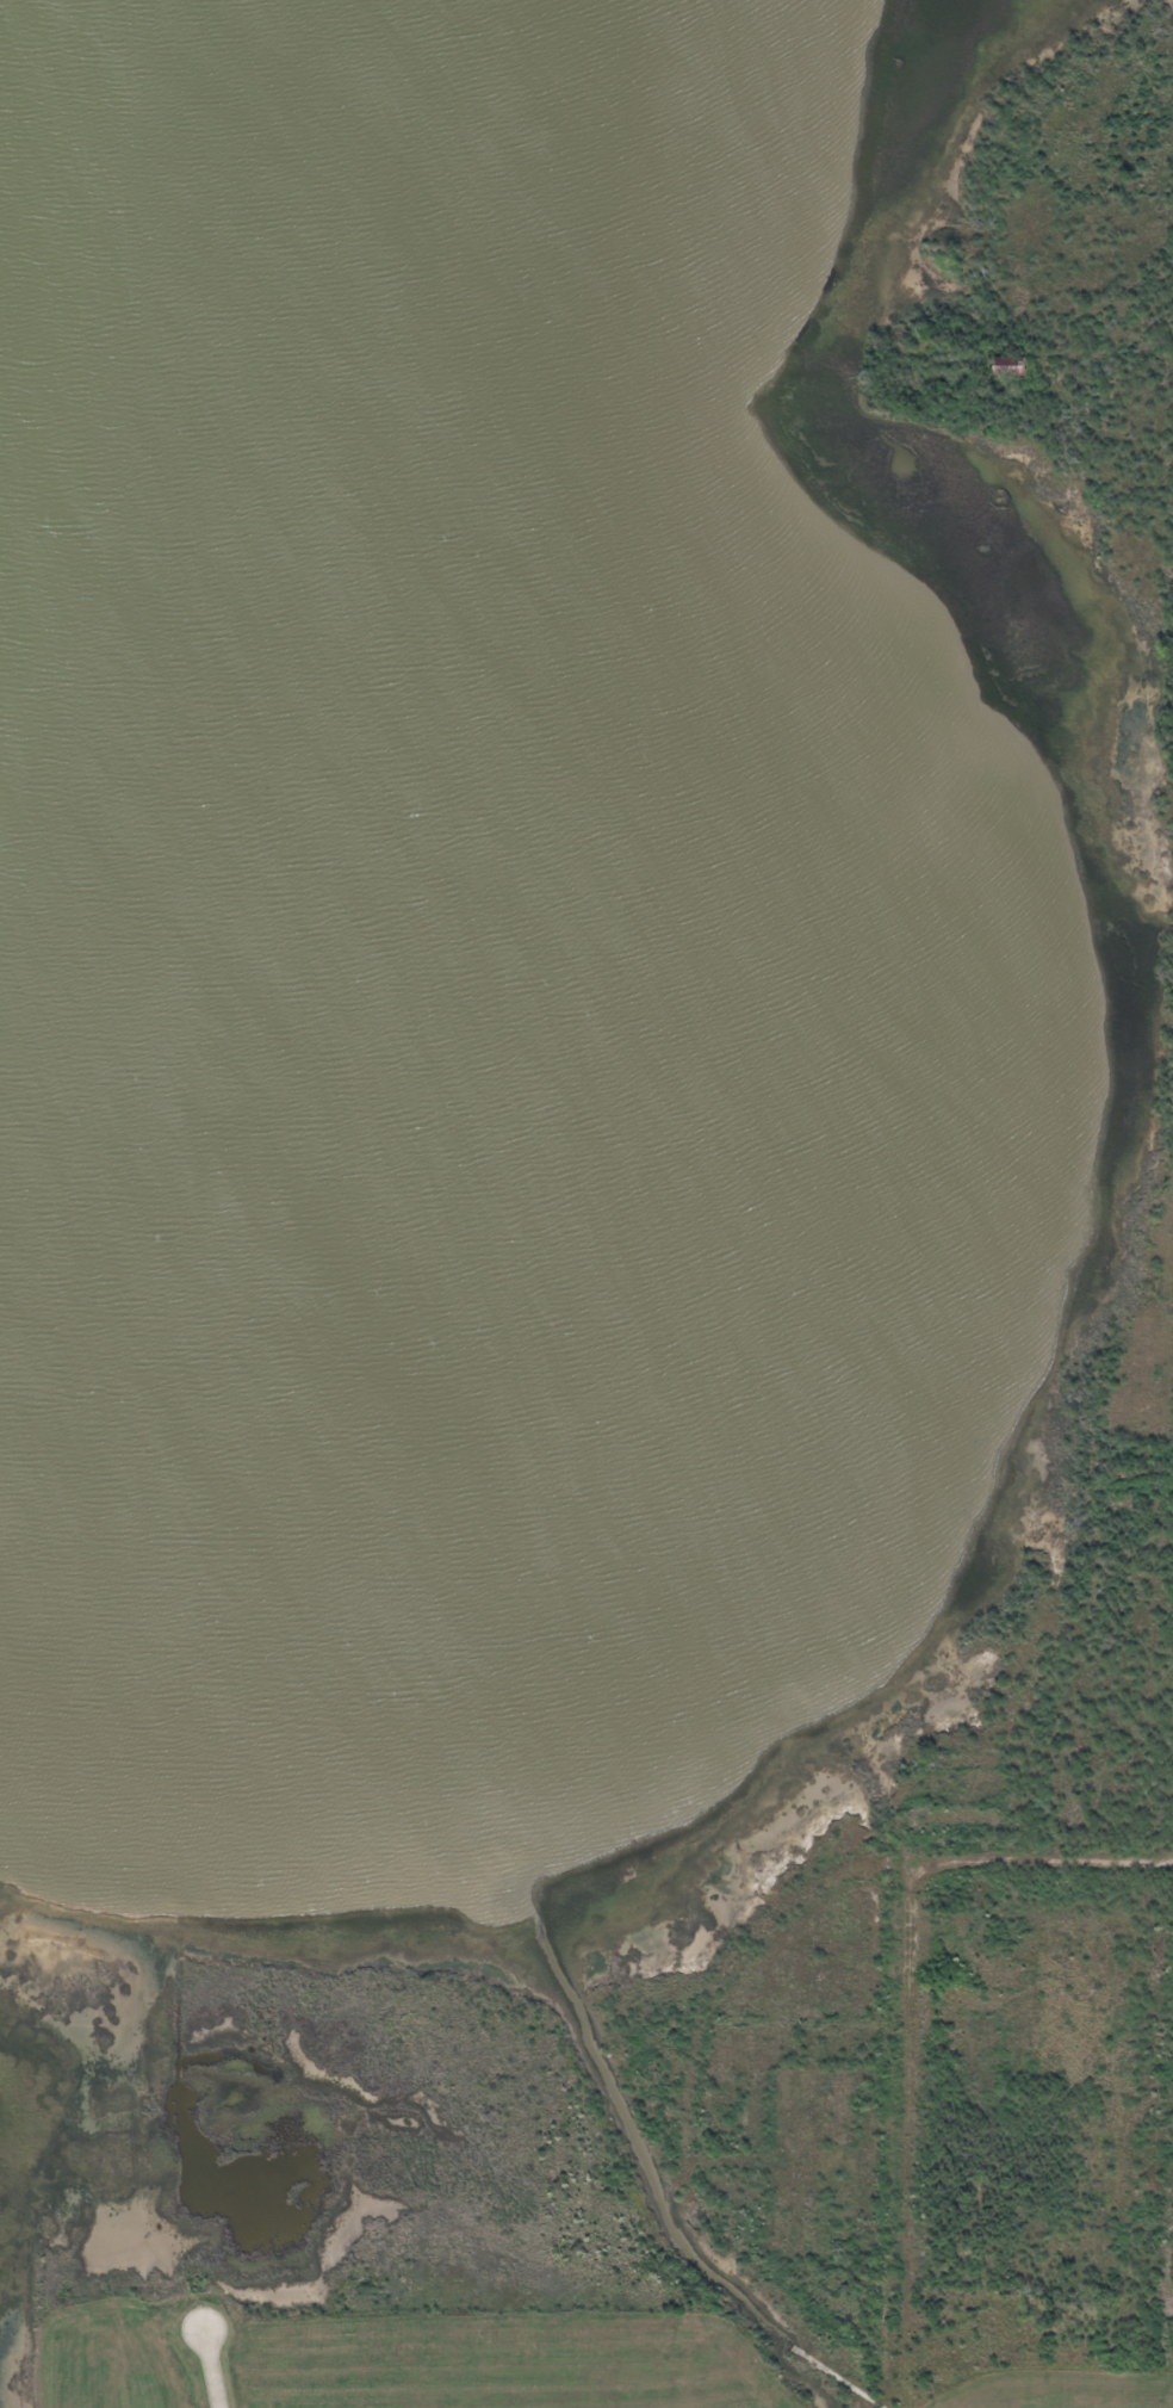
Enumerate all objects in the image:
road: (211, 2367)

